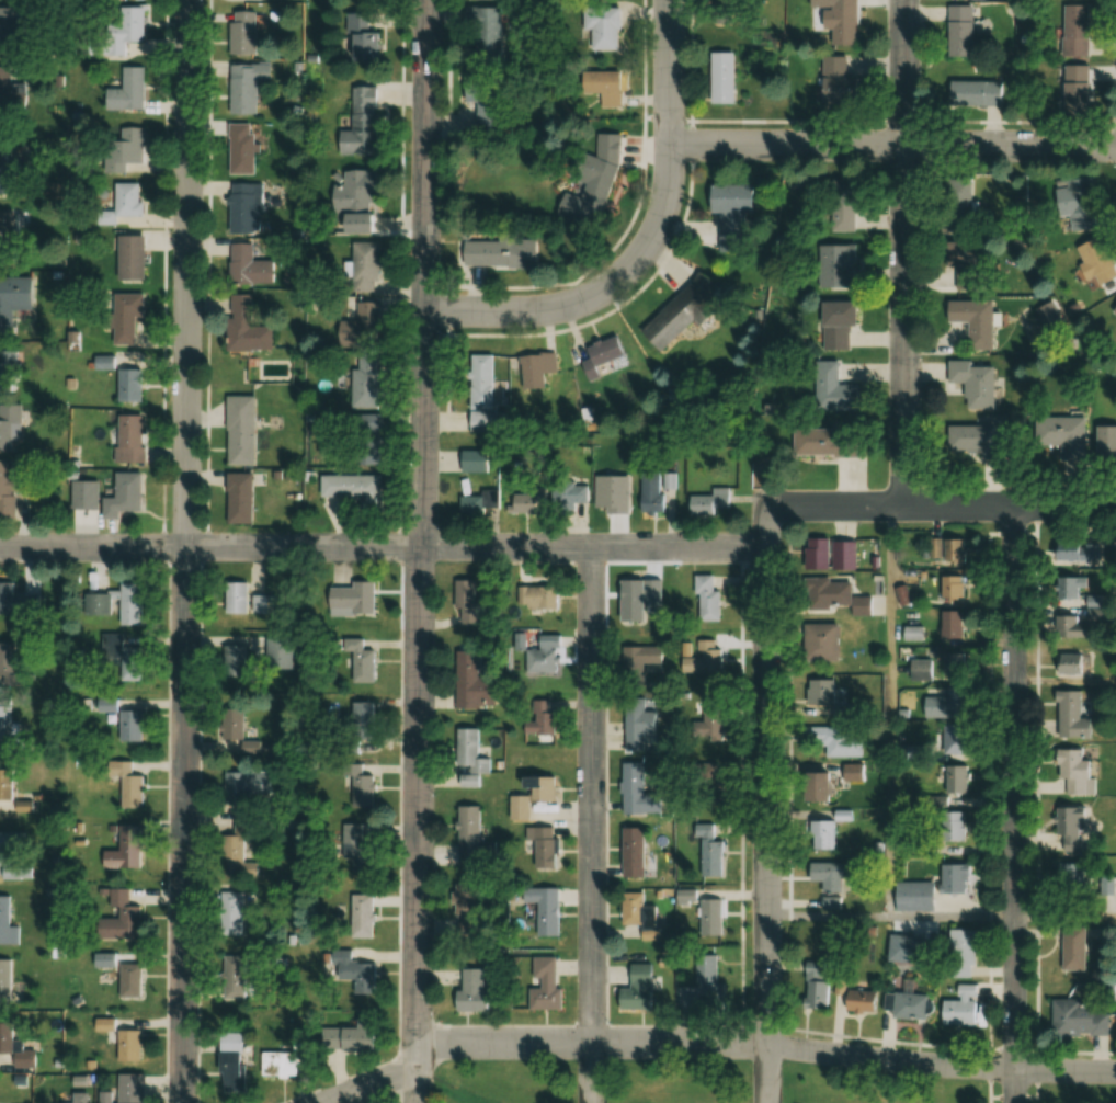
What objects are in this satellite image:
building: (841, 23)
building: (124, 30)
building: (13, 31)
building: (605, 31)
building: (957, 31)
building: (1072, 31)
building: (246, 32)
building: (497, 32)
building: (364, 37)
building: (726, 78)
building: (834, 81)
building: (250, 86)
building: (608, 87)
building: (1073, 88)
building: (130, 91)
building: (972, 93)
building: (11, 95)
building: (492, 101)
building: (365, 123)
building: (130, 147)
road: (890, 147)
building: (246, 148)
building: (10, 163)
building: (607, 163)
building: (361, 190)
building: (132, 200)
building: (1073, 203)
building: (248, 206)
building: (958, 206)
building: (738, 214)
building: (367, 223)
building: (9, 229)
road: (646, 245)
building: (500, 253)
road: (904, 253)
building: (960, 254)
building: (135, 258)
building: (1093, 259)
building: (367, 262)
building: (834, 265)
building: (252, 266)
building: (19, 307)
building: (1113, 311)
building: (684, 315)
building: (129, 317)
building: (973, 322)
building: (249, 326)
building: (365, 326)
building: (834, 326)
building: (606, 354)
building: (540, 371)
building: (967, 378)
building: (132, 379)
building: (367, 382)
building: (829, 387)
building: (488, 396)
building: (9, 428)
building: (243, 430)
building: (1104, 435)
building: (1068, 437)
building: (132, 439)
building: (815, 441)
building: (970, 441)
building: (477, 460)
building: (357, 489)
building: (10, 491)
building: (87, 494)
building: (571, 494)
building: (127, 496)
building: (612, 497)
building: (243, 498)
building: (711, 502)
building: (470, 507)
road: (921, 508)
road: (383, 547)
road: (181, 550)
road: (415, 550)
building: (942, 550)
building: (834, 555)
building: (947, 589)
building: (841, 595)
building: (240, 598)
building: (356, 598)
building: (544, 598)
building: (18, 602)
building: (470, 602)
building: (635, 603)
building: (264, 604)
building: (99, 609)
building: (947, 624)
building: (1072, 626)
building: (827, 643)
building: (649, 656)
building: (704, 658)
building: (239, 661)
building: (539, 661)
building: (950, 661)
building: (132, 663)
building: (365, 663)
building: (10, 666)
building: (918, 669)
building: (477, 683)
building: (823, 692)
building: (944, 704)
road: (889, 712)
building: (1068, 717)
building: (234, 723)
building: (707, 723)
building: (7, 724)
building: (542, 724)
building: (638, 724)
building: (363, 725)
building: (133, 726)
building: (949, 740)
building: (842, 742)
building: (472, 753)
building: (1071, 772)
building: (856, 773)
building: (719, 774)
building: (952, 780)
building: (7, 784)
building: (827, 784)
building: (251, 791)
building: (135, 792)
building: (358, 792)
building: (639, 793)
building: (535, 797)
road: (1015, 805)
building: (1069, 819)
road: (764, 825)
road: (589, 826)
building: (949, 827)
building: (475, 839)
building: (545, 845)
building: (361, 849)
building: (128, 851)
building: (244, 851)
building: (635, 852)
building: (713, 852)
building: (13, 856)
building: (834, 876)
building: (1067, 877)
building: (952, 878)
building: (911, 896)
building: (241, 898)
building: (838, 905)
building: (468, 910)
building: (549, 912)
building: (125, 916)
road: (827, 916)
road: (953, 916)
road: (1066, 916)
building: (363, 917)
building: (640, 917)
building: (711, 918)
building: (8, 923)
building: (1070, 947)
building: (958, 953)
building: (356, 971)
building: (235, 976)
building: (7, 980)
building: (133, 980)
building: (547, 983)
building: (819, 987)
building: (704, 988)
building: (476, 989)
building: (640, 989)
building: (865, 1002)
building: (909, 1005)
building: (958, 1007)
building: (1115, 1012)
building: (1078, 1019)
building: (361, 1036)
road: (715, 1042)
building: (129, 1045)
building: (16, 1047)
building: (297, 1060)
building: (237, 1072)
park: (1068, 1084)
building: (132, 1088)

